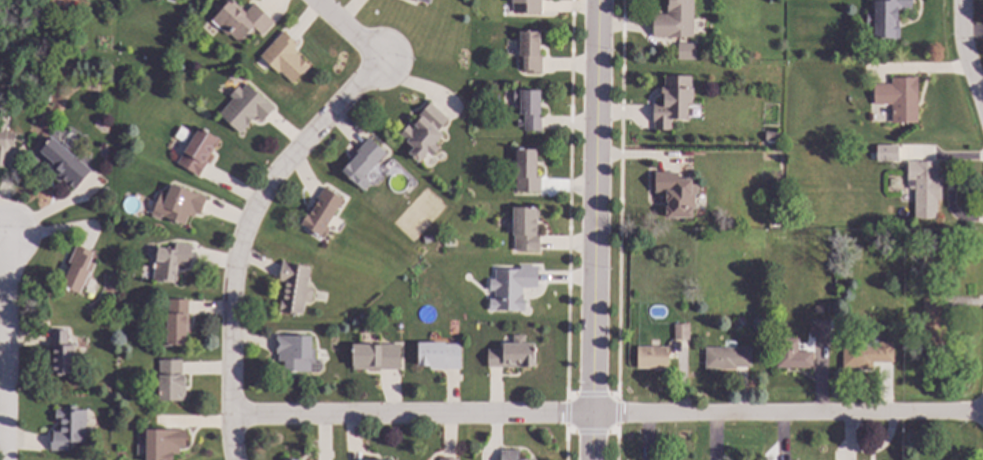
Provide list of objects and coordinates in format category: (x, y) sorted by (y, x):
building: (424, 1)
building: (524, 6)
building: (886, 18)
building: (673, 20)
building: (240, 21)
road: (349, 30)
building: (685, 51)
road: (968, 51)
building: (530, 52)
building: (284, 58)
building: (898, 99)
building: (673, 101)
building: (245, 108)
building: (528, 108)
building: (424, 132)
building: (770, 137)
building: (4, 140)
building: (890, 150)
building: (197, 151)
building: (63, 163)
building: (361, 164)
building: (525, 171)
building: (924, 189)
building: (674, 194)
road: (568, 200)
road: (619, 200)
building: (179, 204)
building: (320, 212)
building: (121, 225)
road: (4, 227)
road: (593, 229)
building: (524, 230)
road: (241, 234)
building: (898, 248)
building: (170, 263)
building: (77, 270)
building: (911, 273)
building: (293, 289)
building: (511, 289)
building: (932, 321)
building: (175, 324)
building: (818, 329)
building: (681, 333)
road: (7, 344)
building: (294, 353)
building: (61, 354)
building: (867, 354)
building: (791, 355)
building: (438, 356)
building: (511, 356)
building: (375, 357)
building: (726, 358)
building: (651, 359)
building: (170, 381)
road: (591, 393)
road: (565, 412)
road: (616, 412)
road: (607, 413)
building: (68, 428)
road: (590, 432)
road: (564, 441)
road: (615, 441)
building: (163, 443)
building: (508, 455)
building: (285, 459)
building: (448, 459)

